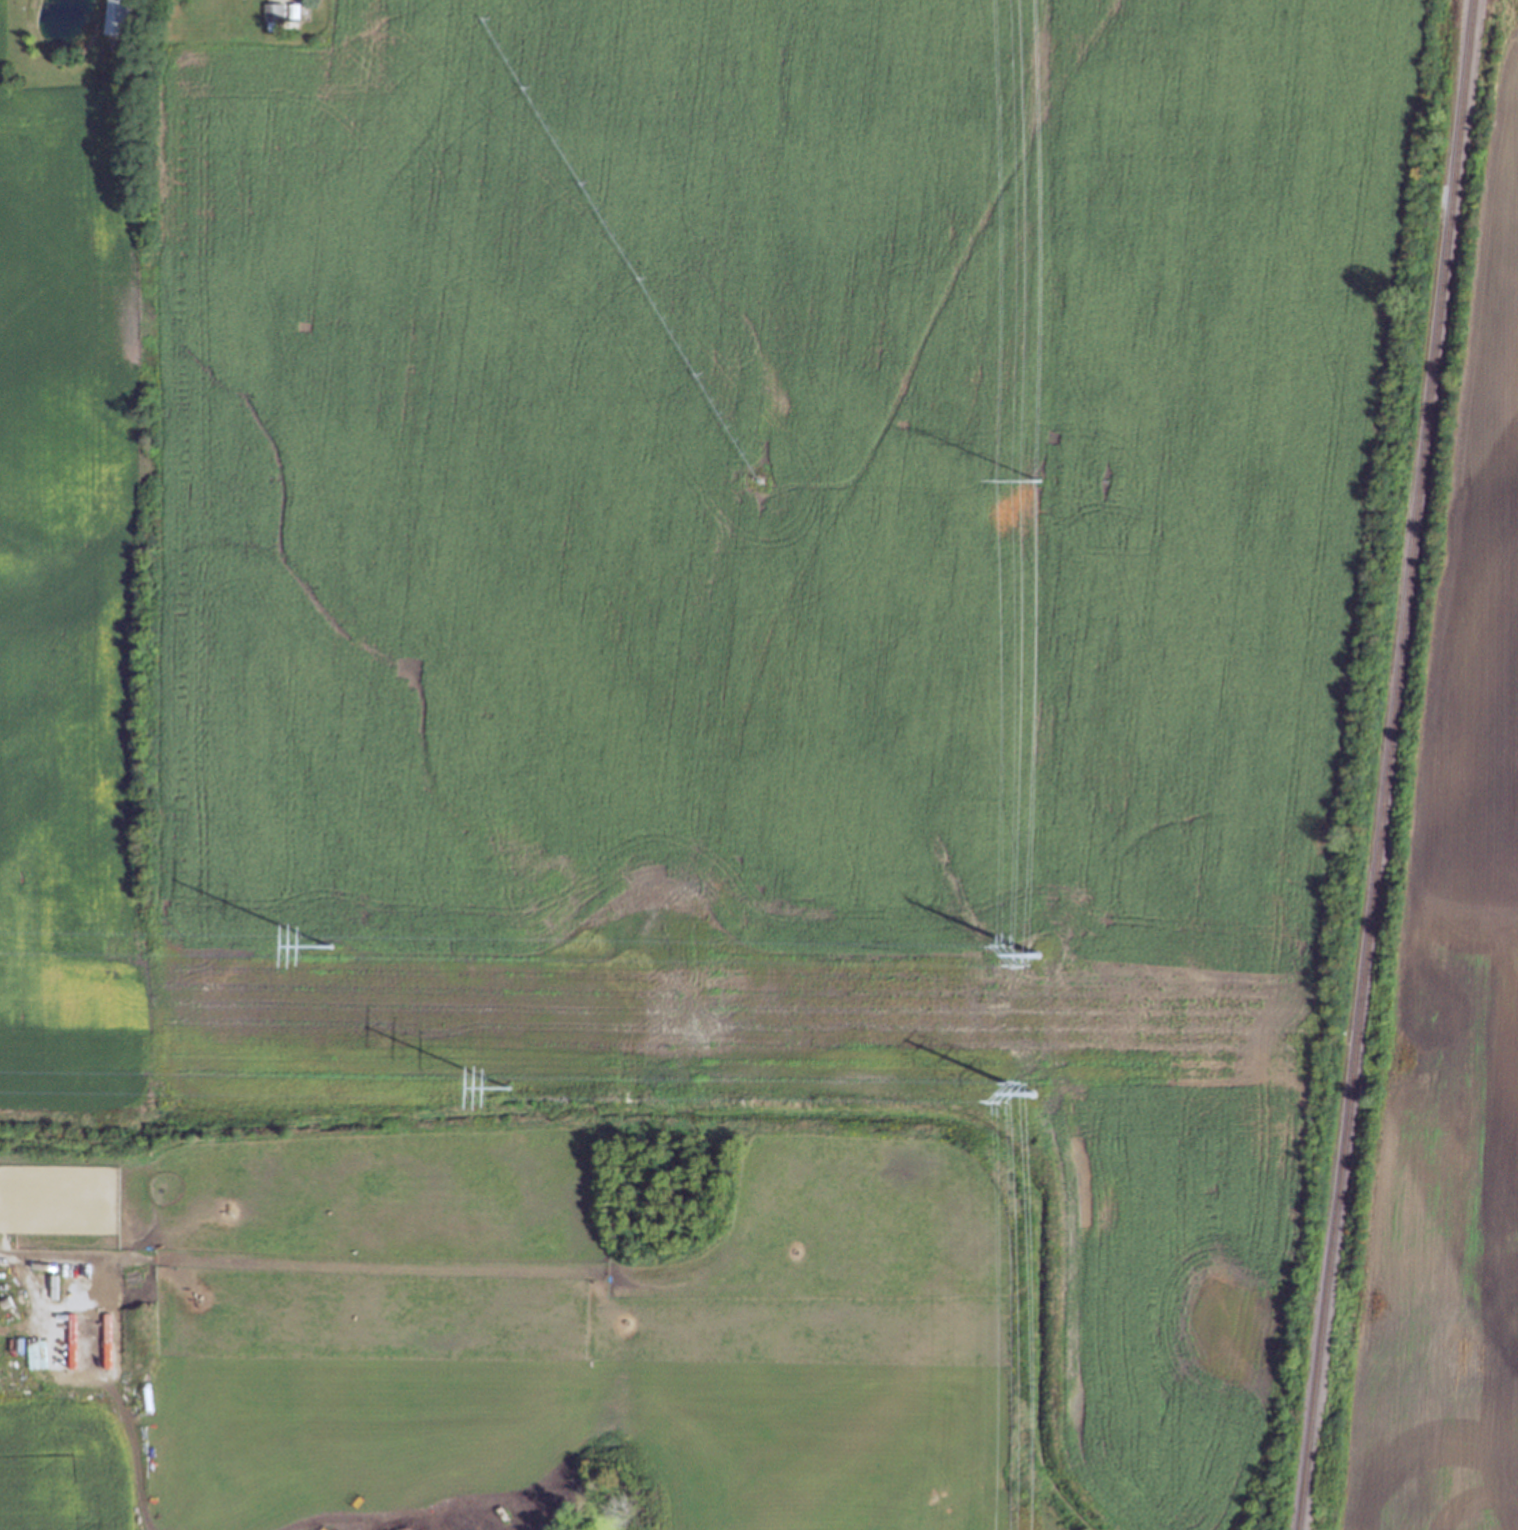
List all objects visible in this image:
building: (273, 16)
building: (116, 17)
power tower: (1038, 480)
railway: (1384, 764)
power tower: (327, 936)
power tower: (1035, 947)
crop: (1453, 975)
power tower: (507, 1080)
power tower: (1034, 1093)
road: (52, 1244)

